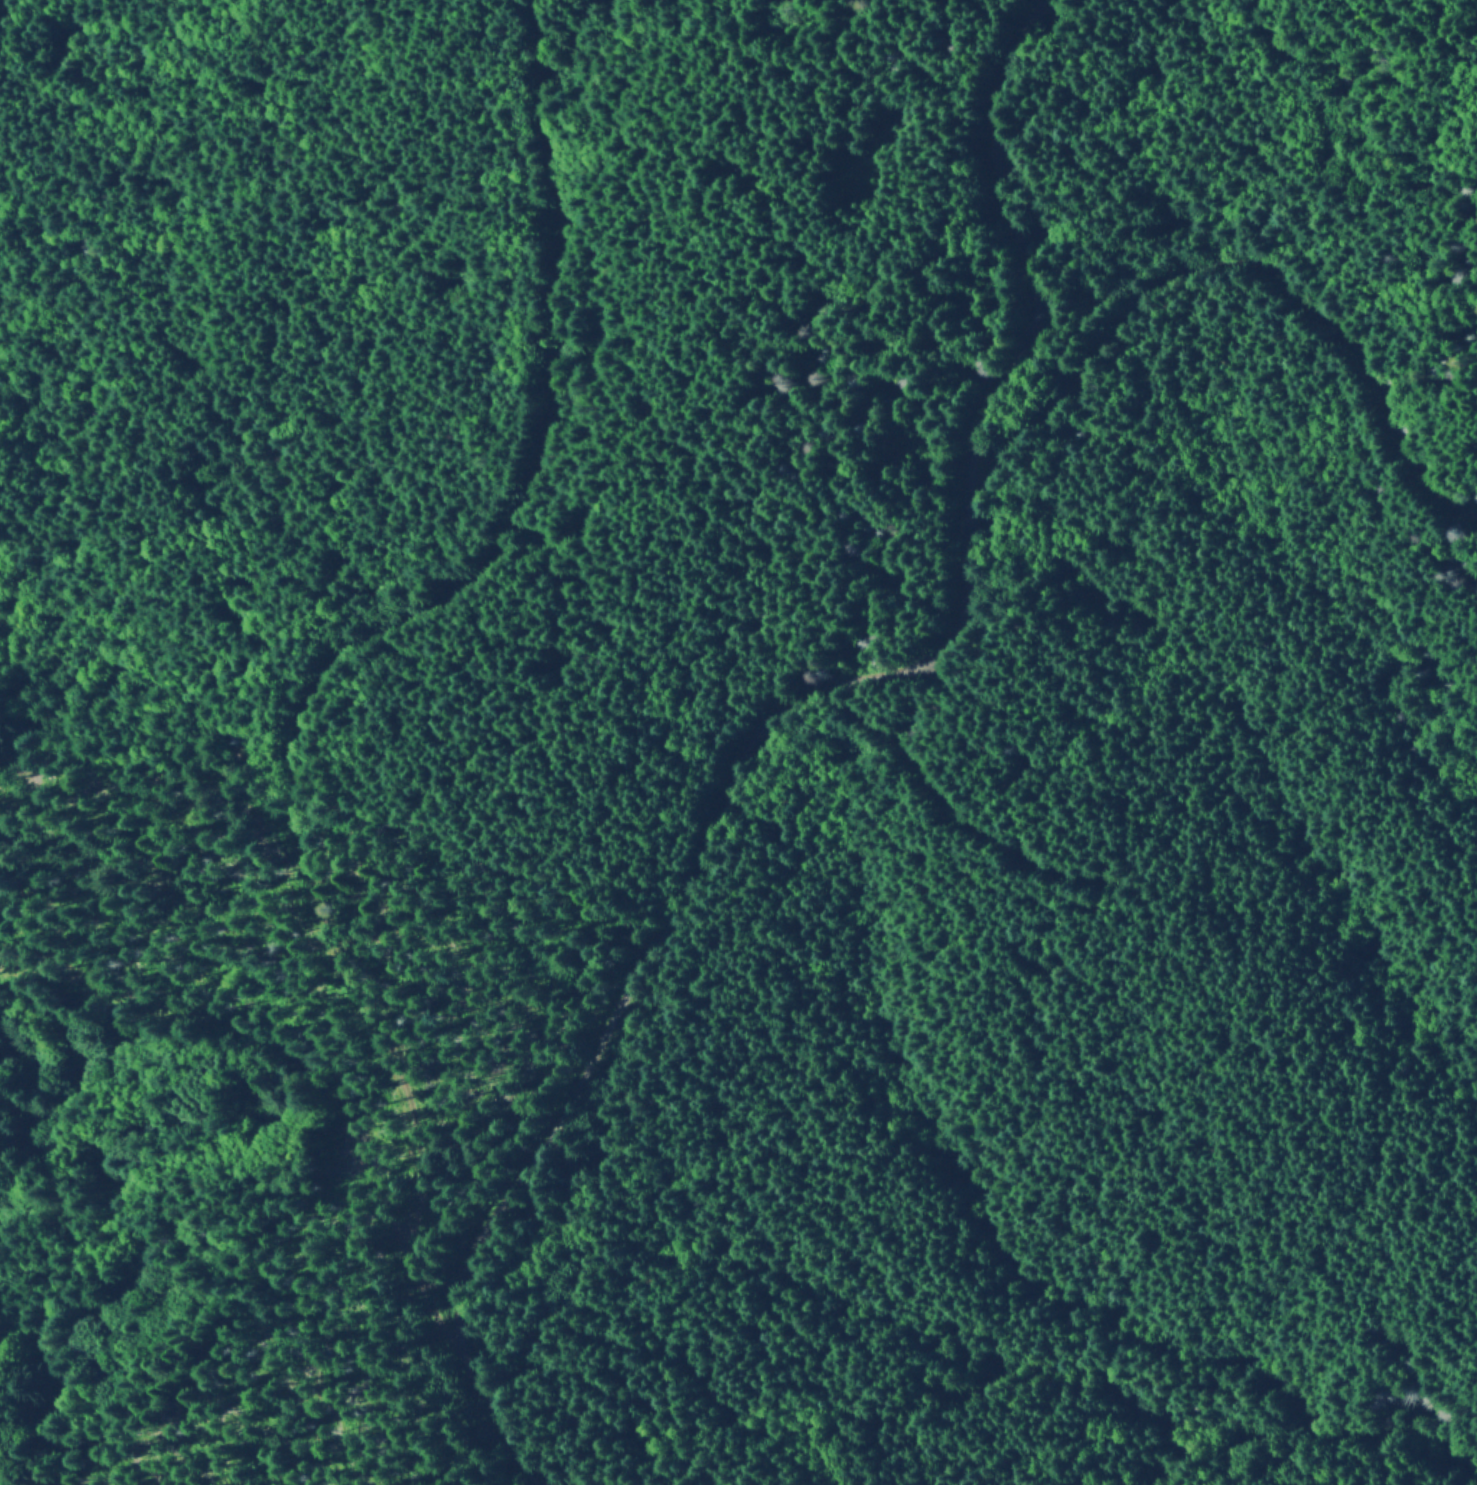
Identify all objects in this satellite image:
road: (767, 714)

